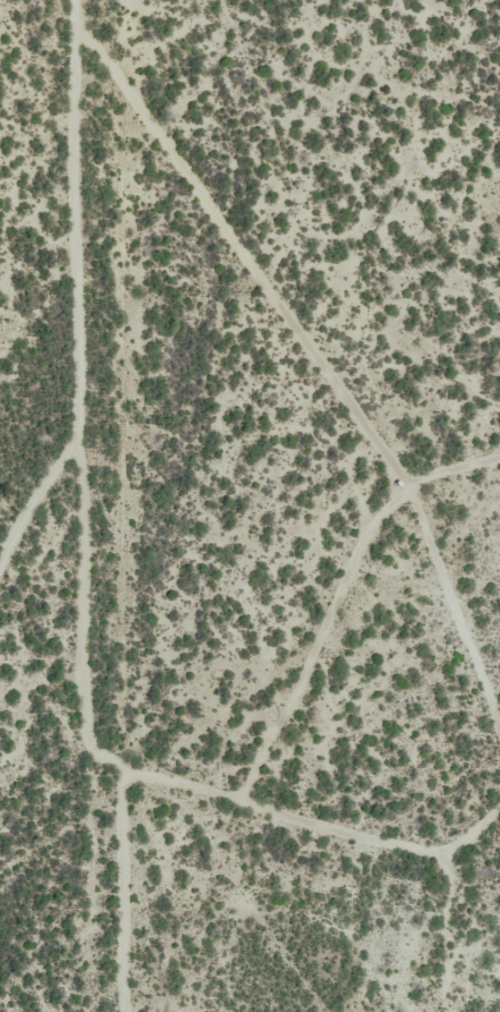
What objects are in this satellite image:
road: (160, 41)
road: (91, 293)
road: (98, 733)

